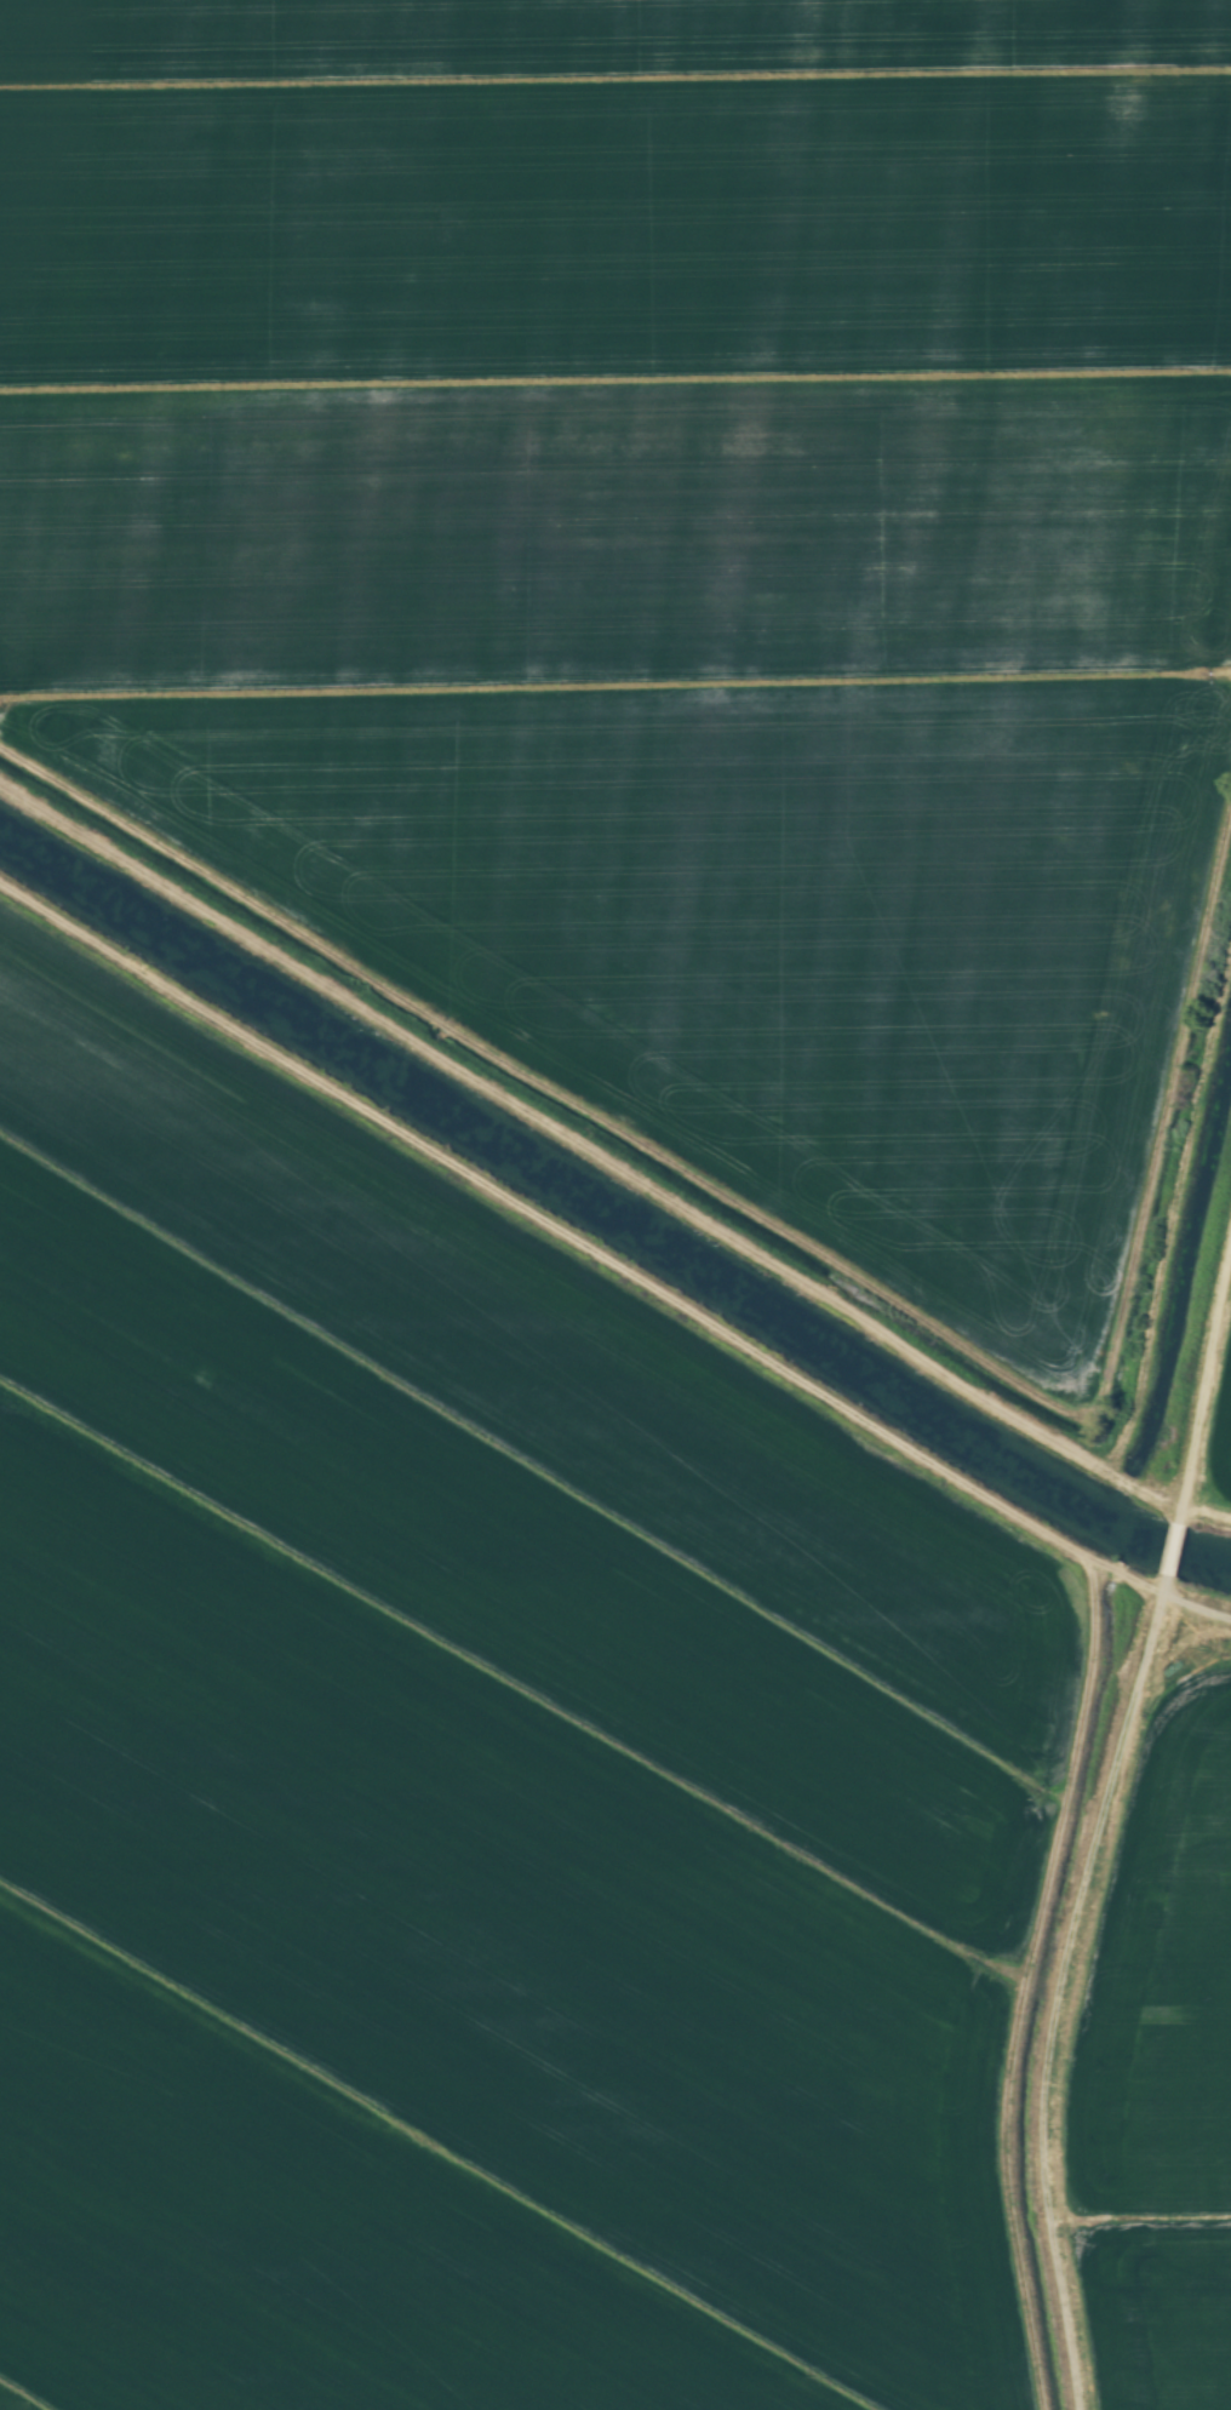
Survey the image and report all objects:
road: (1098, 1765)

